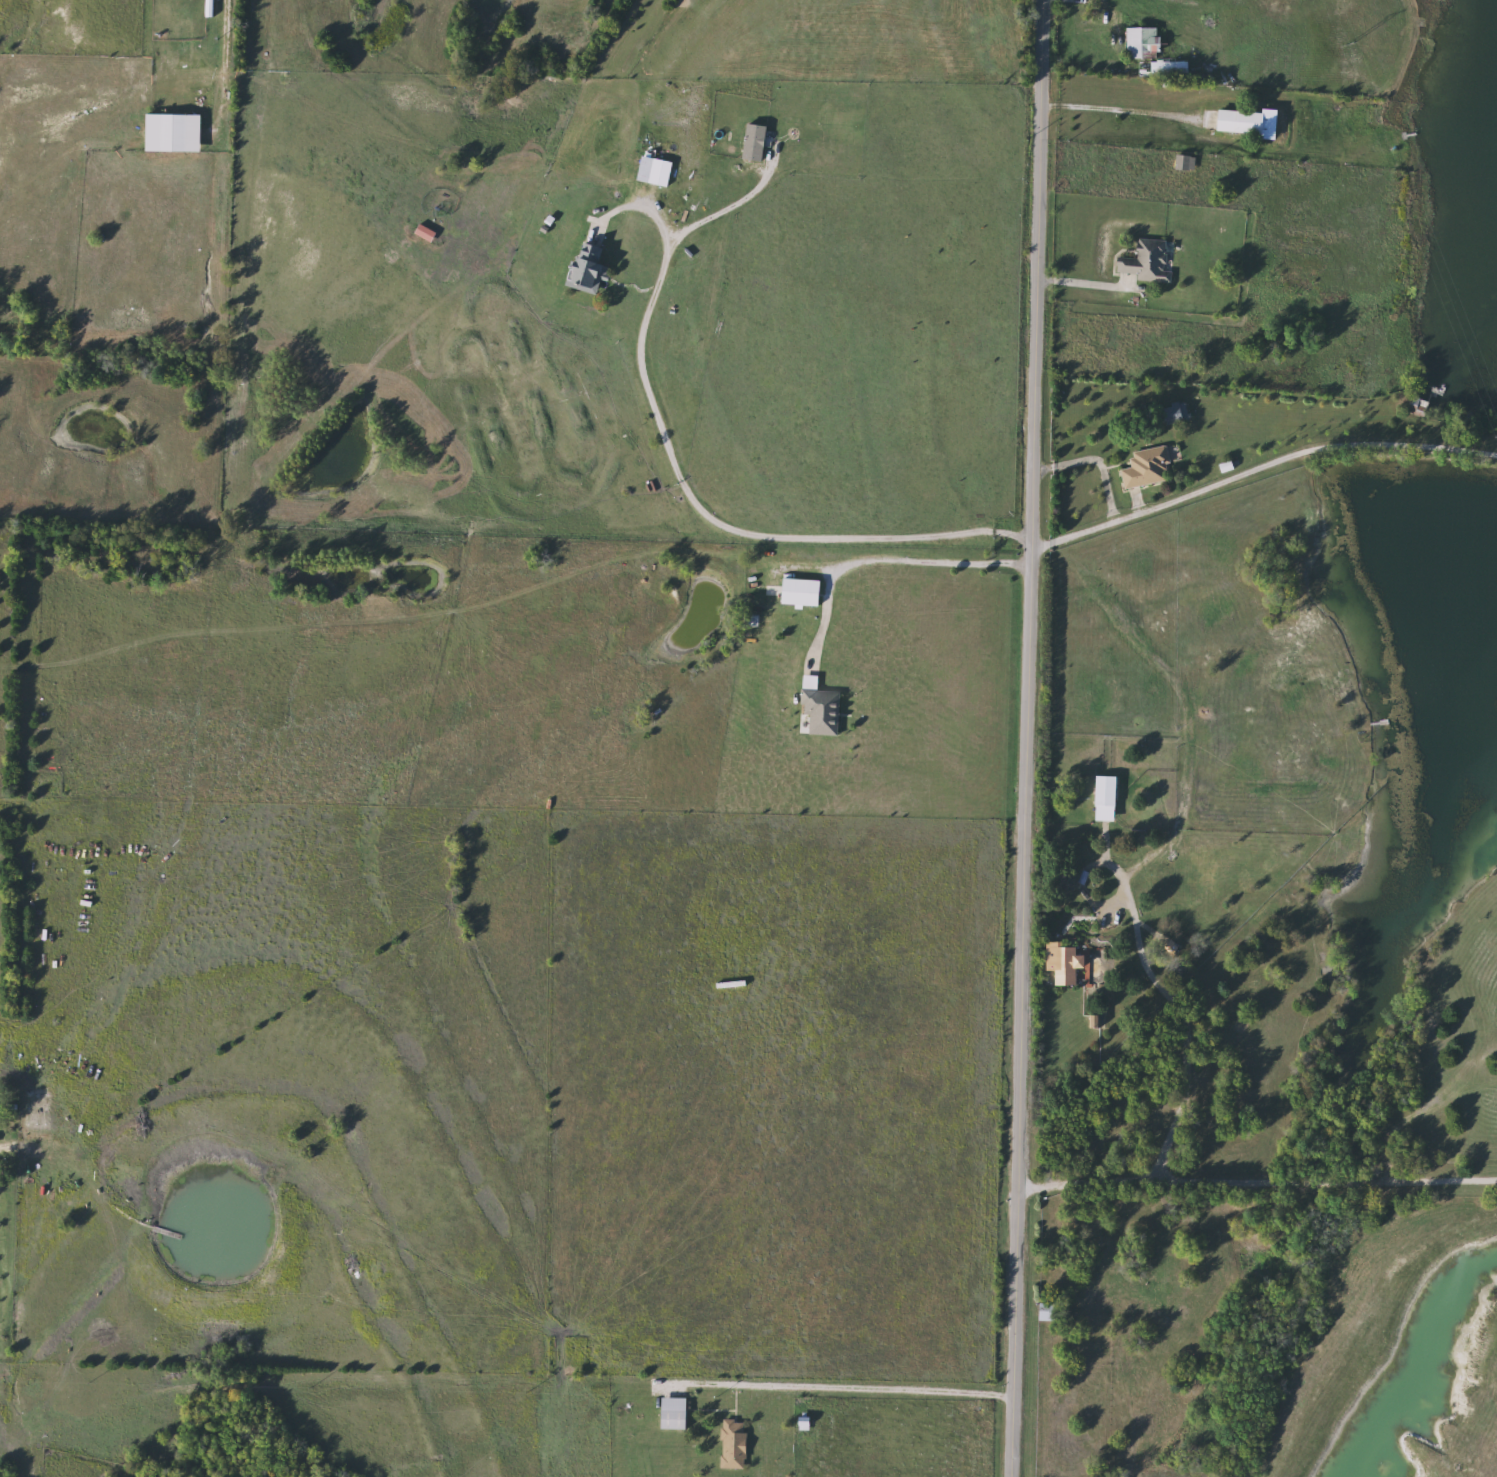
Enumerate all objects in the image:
road: (220, 42)
building: (1143, 42)
road: (1116, 108)
building: (1251, 122)
building: (176, 133)
building: (1187, 163)
building: (662, 172)
building: (1149, 262)
building: (590, 268)
road: (1085, 284)
building: (1419, 406)
building: (1177, 413)
road: (1091, 458)
road: (1252, 467)
building: (1149, 468)
road: (720, 519)
road: (886, 559)
building: (803, 593)
building: (824, 711)
road: (1019, 738)
building: (1109, 792)
building: (1077, 963)
road: (1187, 1034)
road: (1328, 1182)
building: (1050, 1312)
road: (846, 1384)
building: (676, 1413)
building: (735, 1444)

